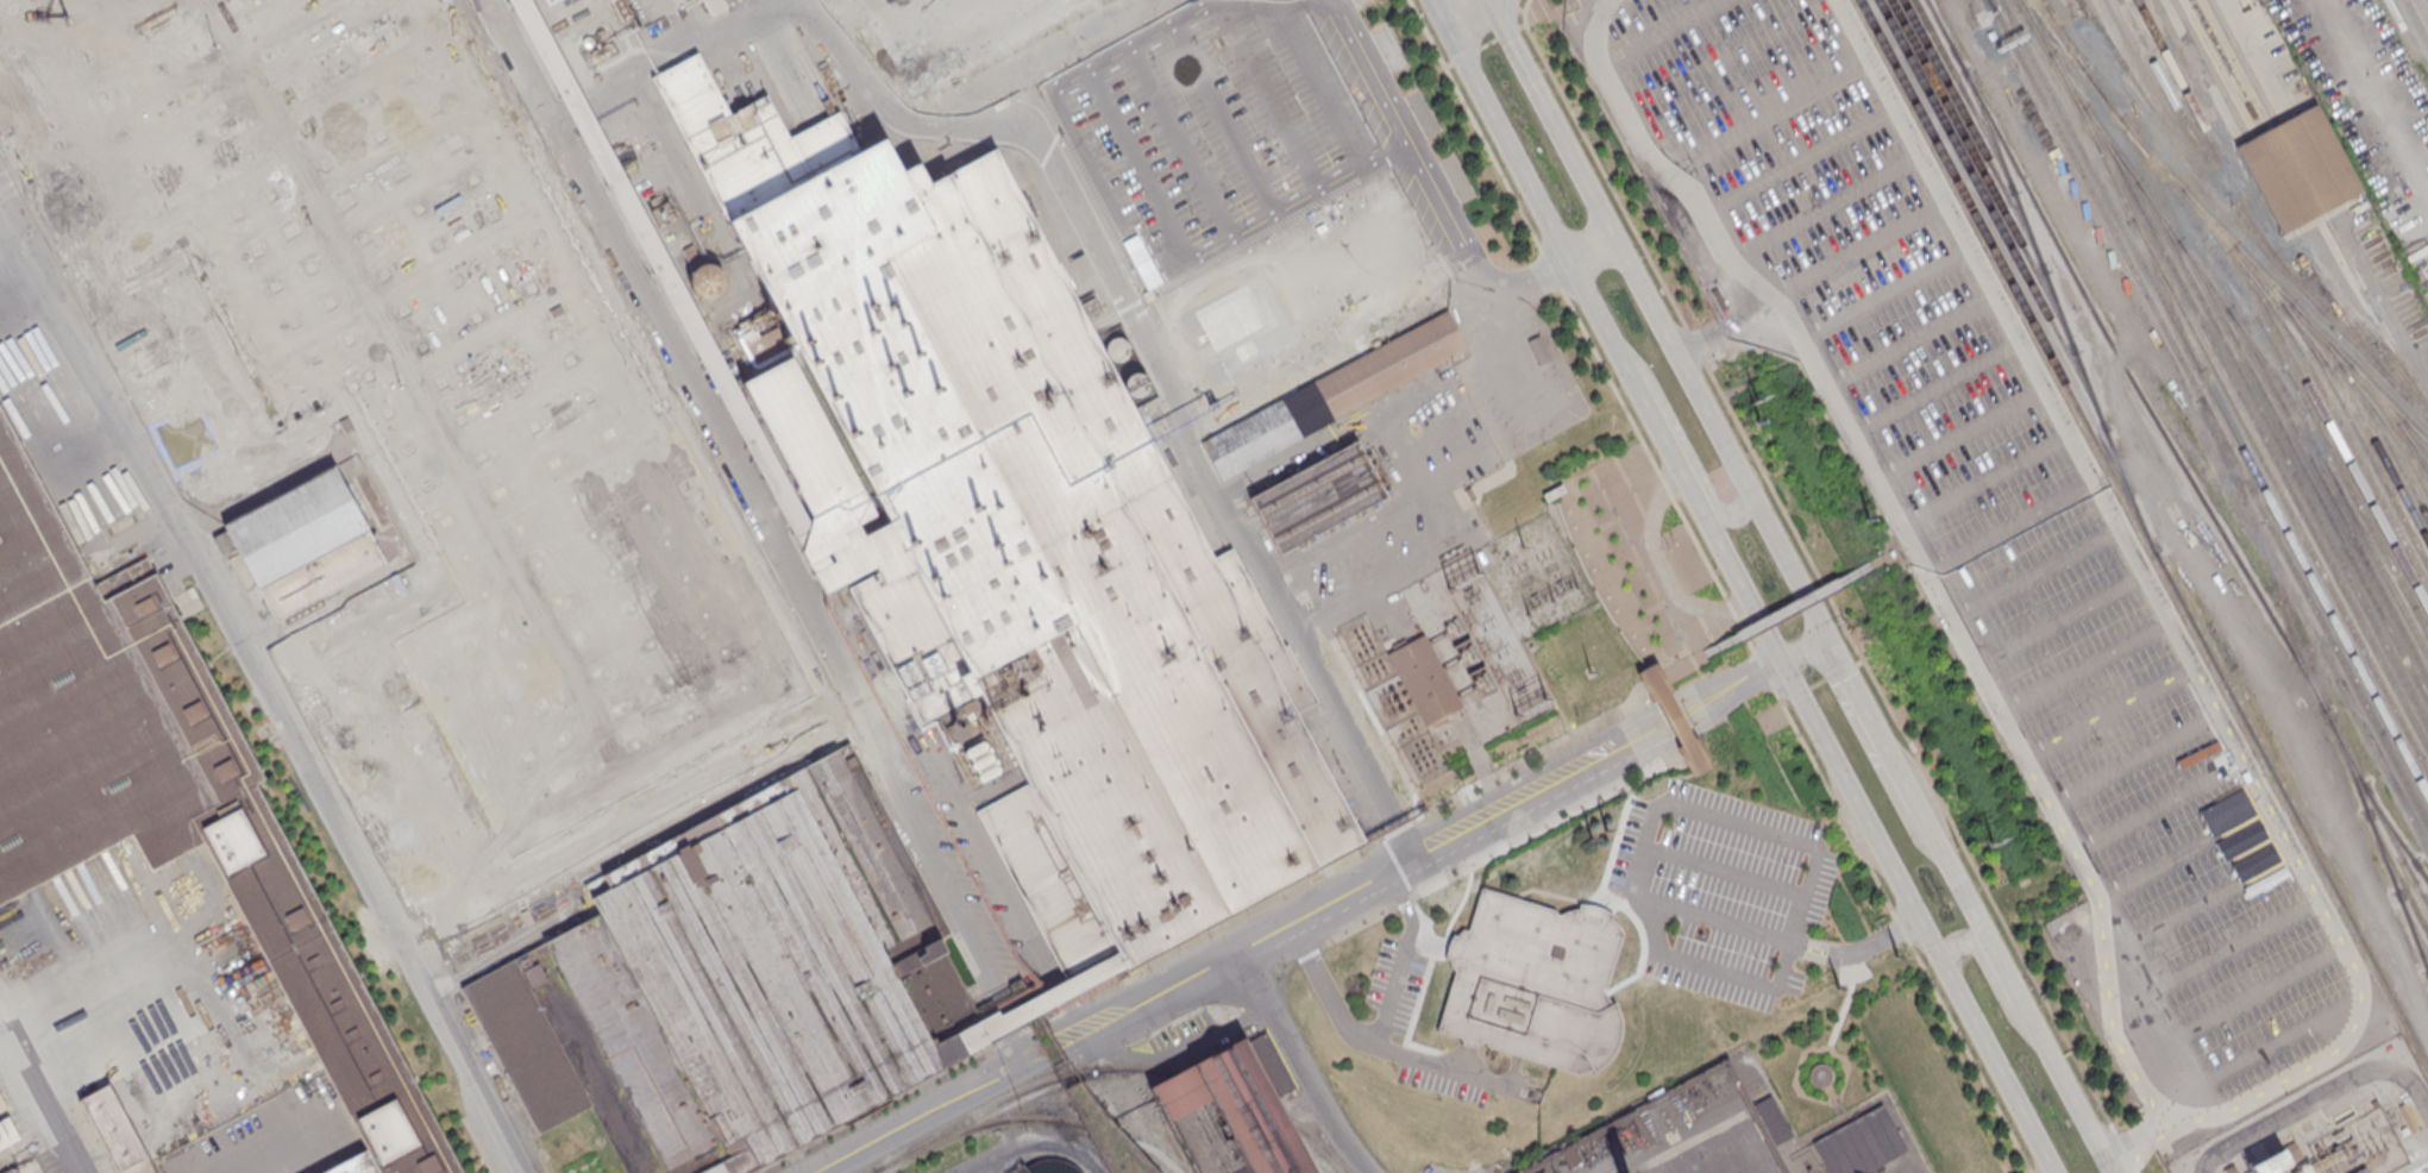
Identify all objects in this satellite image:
building: (546, 1)
road: (1447, 1)
road: (1450, 1)
road: (827, 4)
traffic signals: (1448, 4)
road: (1513, 5)
railway: (1990, 5)
road: (1520, 11)
road: (2418, 15)
road: (1522, 27)
building: (953, 30)
road: (1507, 33)
railway: (2106, 33)
railway: (2060, 34)
road: (1488, 43)
road: (1466, 55)
road: (661, 58)
road: (1035, 61)
railway: (2244, 62)
road: (1449, 64)
railway: (2210, 69)
railway: (2150, 89)
railway: (1965, 95)
road: (1891, 105)
railway: (2185, 123)
railway: (1974, 136)
parking lot: (1753, 137)
road: (1351, 143)
road: (1301, 155)
road: (1645, 155)
road: (1246, 156)
building: (1243, 157)
railway: (2221, 159)
road: (1788, 167)
building: (2298, 168)
parking lot: (1253, 171)
road: (1198, 175)
railway: (1983, 175)
road: (1155, 199)
road: (1813, 214)
railway: (1993, 214)
road: (1124, 215)
railway: (2238, 224)
road: (1893, 238)
road: (1458, 246)
road: (13, 281)
road: (1532, 281)
building: (676, 295)
railway: (2165, 295)
railway: (2284, 296)
road: (2380, 300)
road: (1593, 305)
railway: (2247, 305)
railway: (2374, 308)
road: (1757, 309)
railway: (2058, 309)
railway: (2360, 316)
road: (1658, 318)
railway: (2353, 333)
road: (1913, 338)
railway: (2252, 345)
road: (1508, 347)
building: (1538, 349)
building: (434, 365)
road: (1165, 371)
railway: (2316, 382)
railway: (2341, 385)
railway: (2221, 387)
road: (1936, 388)
railway: (2364, 396)
building: (1334, 397)
railway: (2214, 399)
railway: (2207, 410)
railway: (2390, 413)
railway: (2256, 426)
railway: (2329, 429)
railway: (2357, 433)
railway: (2416, 433)
road: (1960, 435)
road: (1683, 440)
railway: (2385, 440)
railway: (2414, 450)
railway: (2282, 451)
railway: (2175, 453)
railway: (2304, 471)
building: (94, 475)
road: (1985, 482)
railway: (2328, 493)
building: (1318, 496)
road: (1560, 506)
road: (1449, 510)
road: (767, 527)
road: (2009, 527)
building: (1017, 532)
railway: (2142, 532)
flagpole: (1664, 539)
flagpole: (1674, 541)
building: (302, 544)
flagpole: (1669, 548)
railway: (2265, 553)
parking lot: (1369, 554)
road: (1890, 556)
road: (1662, 566)
road: (2034, 576)
road: (1720, 586)
road: (1825, 588)
road: (1789, 610)
road: (2058, 619)
power substation: (1499, 621)
road: (1764, 633)
traffic signals: (1824, 640)
road: (1802, 651)
traffic signals: (1781, 663)
road: (2083, 667)
road: (1768, 669)
road: (1845, 670)
building: (1425, 680)
road: (1721, 684)
road: (1819, 684)
road: (270, 696)
road: (1796, 696)
road: (1729, 700)
parking lot: (2094, 702)
road: (1665, 703)
road: (2108, 714)
building: (1673, 720)
road: (1868, 726)
road: (1380, 728)
road: (1680, 734)
road: (1617, 740)
road: (1624, 754)
road: (2132, 758)
road: (1530, 760)
building: (167, 791)
road: (2165, 802)
road: (628, 828)
road: (1399, 830)
road: (1539, 833)
railway: (2394, 833)
road: (1793, 840)
railway: (2379, 845)
road: (2190, 851)
road: (1399, 870)
railway: (2395, 871)
railway: (2421, 871)
road: (1725, 872)
road: (1606, 891)
parking lot: (1724, 891)
road: (2203, 899)
road: (1405, 903)
road: (1326, 904)
road: (1250, 907)
road: (1602, 910)
road: (1919, 916)
road: (1715, 920)
railway: (2411, 922)
road: (1425, 927)
road: (1360, 929)
road: (1881, 941)
road: (1824, 946)
road: (2231, 949)
road: (1310, 955)
road: (1404, 955)
road: (1991, 977)
road: (1868, 978)
building: (735, 981)
building: (1532, 983)
parking lot: (1397, 984)
road: (2015, 990)
road: (2256, 997)
building: (1035, 1002)
road: (1055, 1010)
road: (1384, 1045)
road: (1054, 1049)
road: (1801, 1054)
road: (1474, 1059)
road: (1299, 1065)
road: (1846, 1073)
fountain: (1820, 1074)
road: (2190, 1079)
railway: (1234, 1090)
railway: (1015, 1093)
road: (2236, 1096)
road: (2313, 1097)
road: (38, 1098)
building: (1, 1103)
road: (872, 1109)
road: (929, 1114)
building: (1228, 1117)
building: (1771, 1117)
power plant: (2330, 1124)
railway: (973, 1129)
building: (114, 1131)
railway: (1108, 1134)
railway: (1092, 1137)
railway: (1319, 1143)
building: (1858, 1143)
railway: (1121, 1146)
road: (1006, 1154)
railway: (1154, 1158)
building: (2271, 1161)
building: (27, 1166)
building: (1048, 1166)
building: (2234, 1167)
building: (2359, 1171)
building: (1542, 1172)

